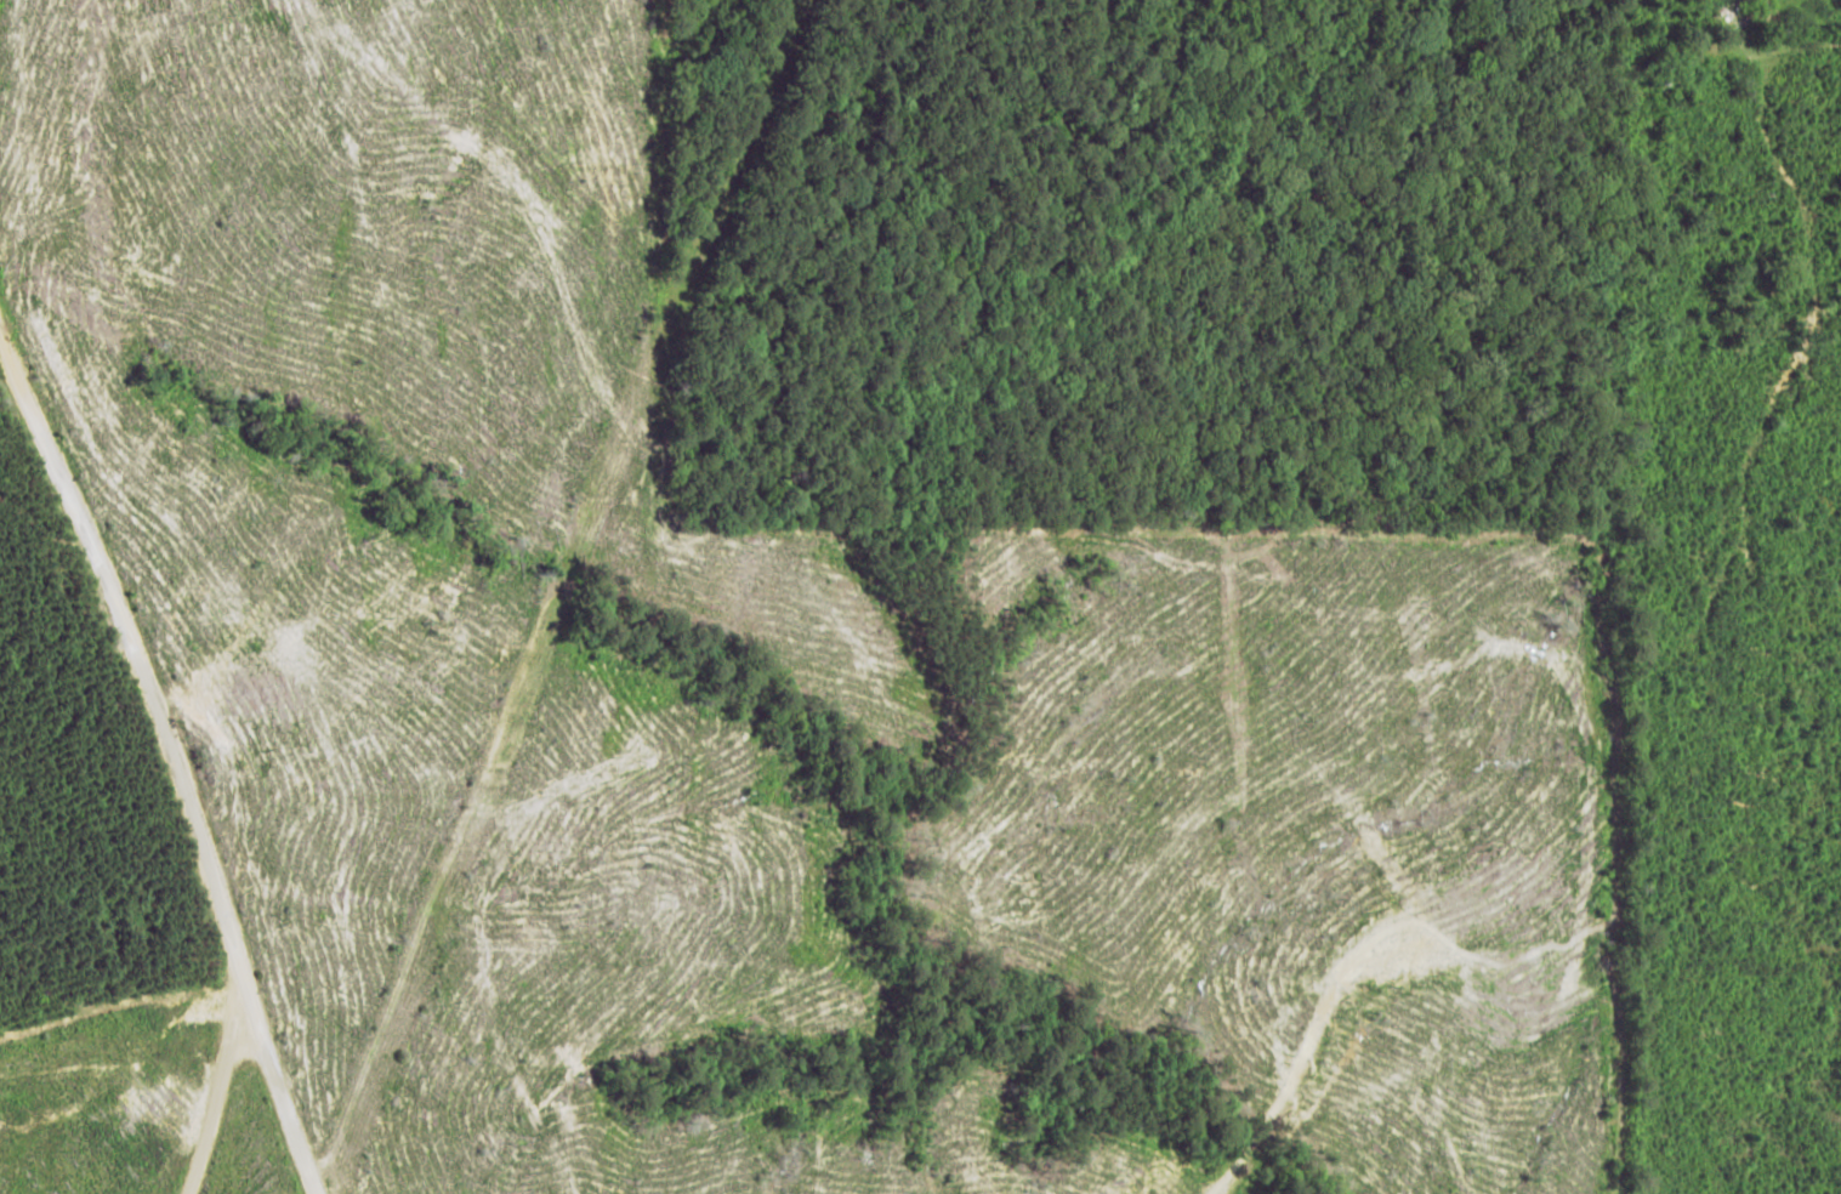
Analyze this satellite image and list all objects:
road: (135, 729)
road: (206, 1142)

